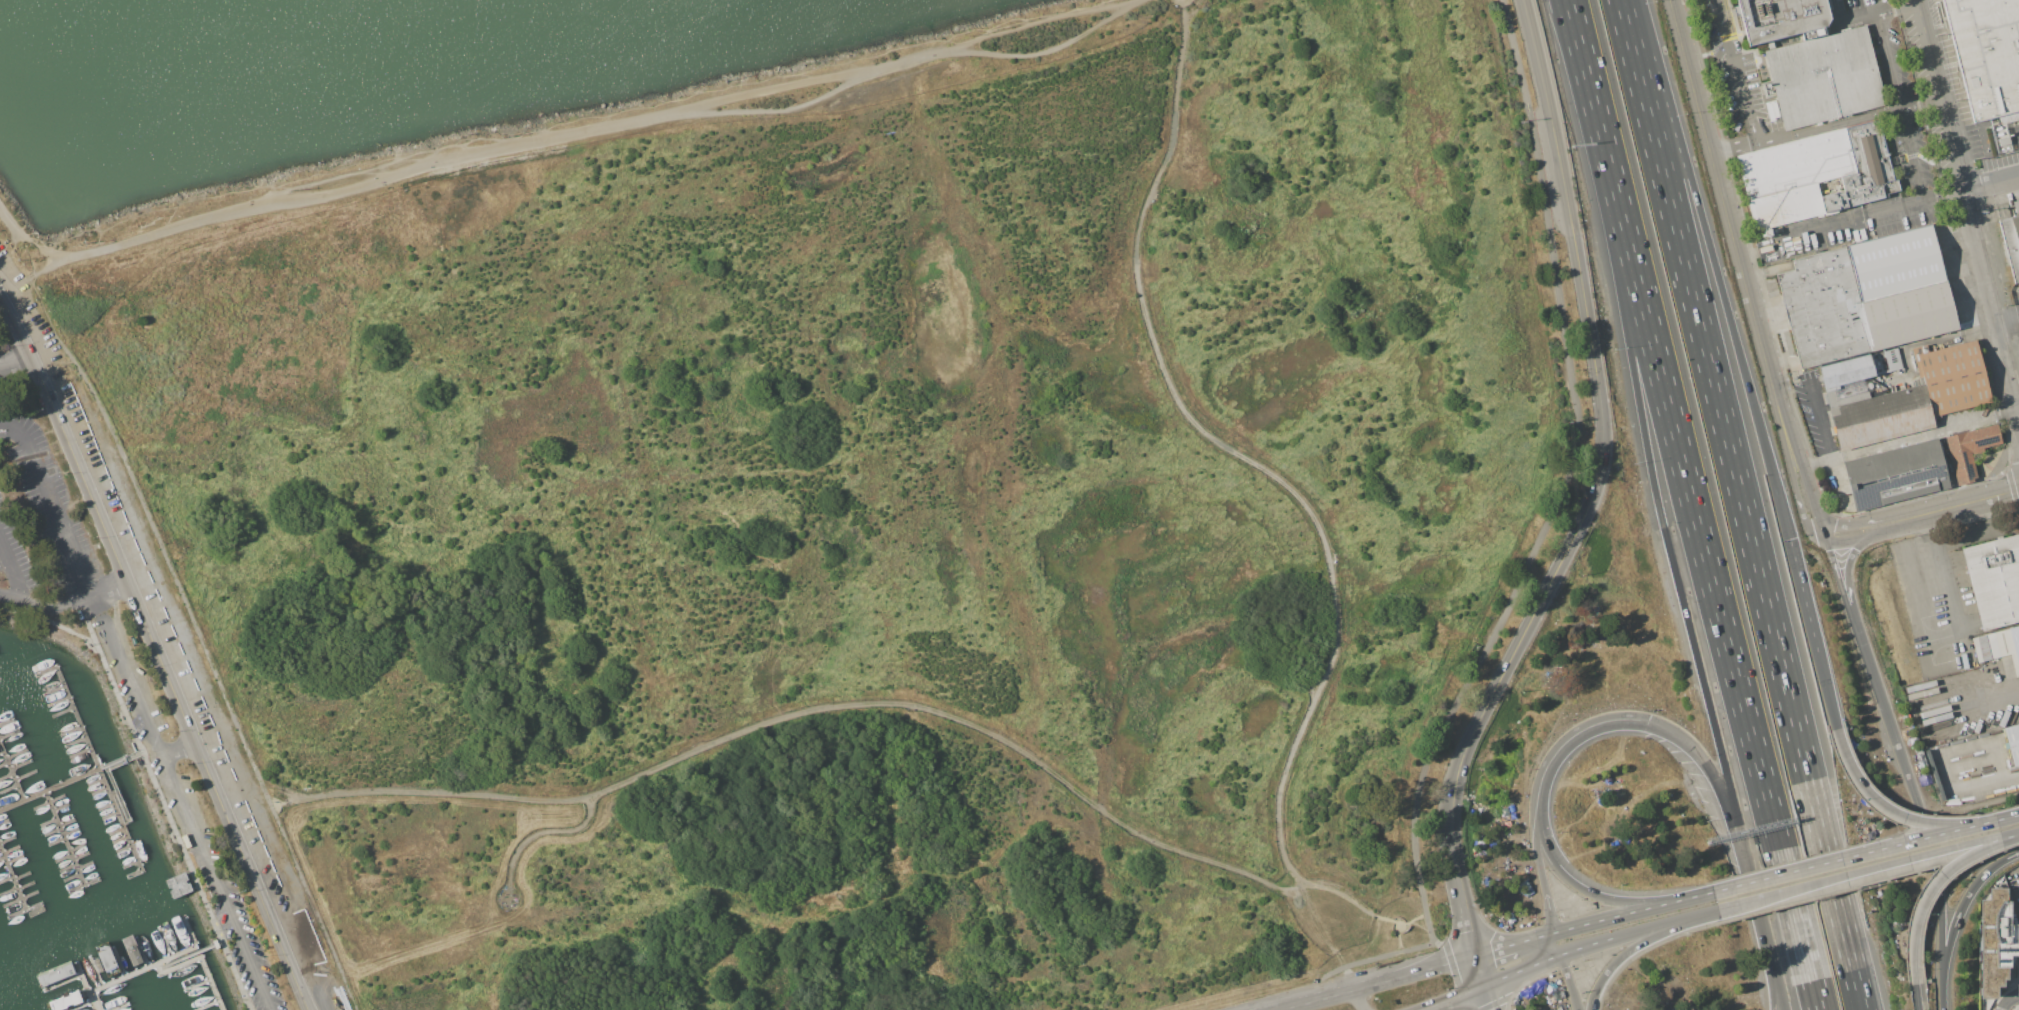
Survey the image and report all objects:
road: (1896, 7)
building: (1777, 18)
road: (1846, 21)
building: (1986, 54)
road: (1887, 60)
road: (1734, 70)
road: (1587, 80)
building: (1822, 80)
road: (1941, 94)
road: (1827, 124)
road: (554, 146)
road: (1731, 146)
road: (1910, 153)
railway: (1964, 166)
road: (1992, 181)
building: (1805, 182)
road: (1943, 194)
railway: (1969, 194)
road: (1840, 221)
road: (1728, 227)
building: (2011, 240)
road: (1714, 265)
building: (1865, 296)
road: (1992, 301)
road: (2007, 315)
road: (1935, 341)
road: (16, 363)
building: (1846, 371)
building: (1953, 377)
building: (1861, 394)
parking lot: (1813, 412)
building: (1880, 417)
road: (1819, 420)
road: (1909, 437)
building: (1968, 450)
road: (1263, 473)
road: (1790, 474)
building: (1895, 474)
road: (1838, 482)
road: (1807, 487)
road: (1592, 491)
road: (1967, 502)
road: (50, 503)
road: (1742, 504)
park: (876, 513)
parking lot: (38, 517)
road: (1660, 518)
road: (1803, 518)
road: (1894, 521)
road: (1549, 522)
road: (1848, 524)
road: (1918, 528)
road: (1823, 529)
road: (1850, 539)
building: (1994, 580)
road: (1711, 585)
road: (1847, 588)
road: (1840, 590)
road: (1802, 594)
road: (41, 603)
road: (1921, 614)
road: (86, 620)
building: (1999, 646)
road: (155, 651)
road: (1825, 690)
road: (1990, 699)
road: (830, 703)
pier: (76, 717)
road: (1573, 736)
building: (2013, 741)
road: (177, 749)
road: (1944, 753)
pier: (11, 773)
road: (153, 778)
road: (2010, 778)
pier: (70, 779)
road: (1714, 781)
pier: (119, 800)
road: (1887, 809)
road: (184, 812)
parking lot: (186, 815)
road: (2001, 817)
road: (1922, 818)
pier: (119, 819)
road: (1940, 822)
road: (537, 830)
pier: (64, 839)
road: (1935, 850)
road: (1848, 856)
road: (1538, 866)
pier: (12, 879)
parking lot: (2013, 884)
road: (1581, 885)
road: (1931, 885)
road: (1784, 889)
road: (1694, 895)
road: (1792, 903)
road: (1758, 905)
road: (1703, 910)
road: (1957, 914)
road: (1614, 915)
road: (1398, 923)
road: (1624, 933)
road: (1651, 935)
road: (1672, 937)
road: (1531, 938)
building: (1996, 942)
road: (1556, 943)
road: (1491, 949)
road: (1605, 949)
pier: (189, 953)
pier: (175, 954)
pier: (201, 960)
road: (1616, 960)
road: (1587, 962)
road: (1353, 964)
road: (1562, 966)
road: (1520, 969)
road: (1477, 970)
road: (1772, 975)
road: (1775, 975)
pier: (114, 980)
road: (1525, 982)
road: (1568, 982)
road: (1598, 982)
road: (1380, 983)
road: (1449, 997)
road: (1484, 997)
road: (1915, 997)
road: (2008, 999)
road: (1360, 1000)
road: (1495, 1002)
road: (1941, 1006)

